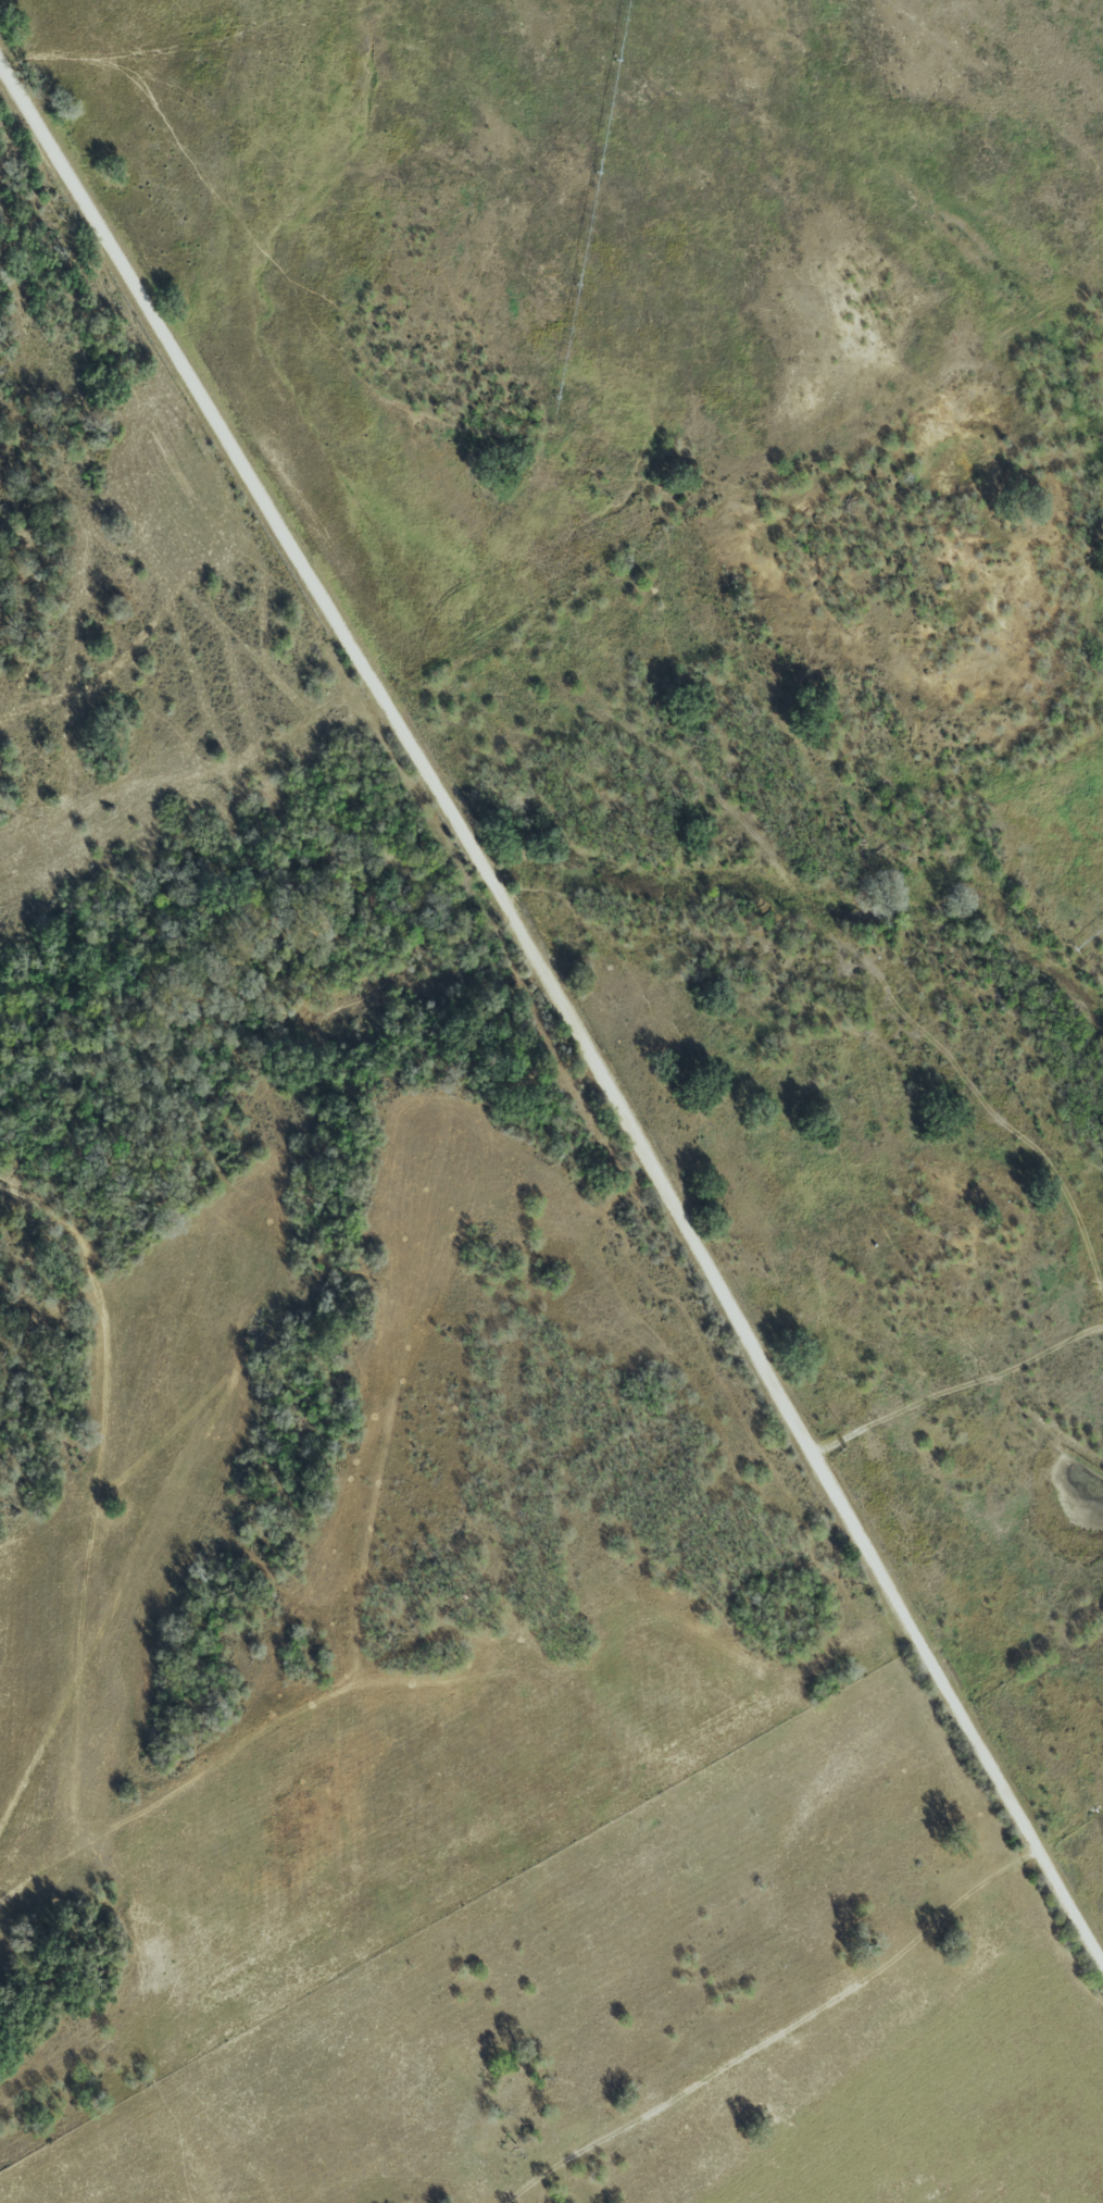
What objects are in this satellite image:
road: (566, 994)
road: (960, 1385)

